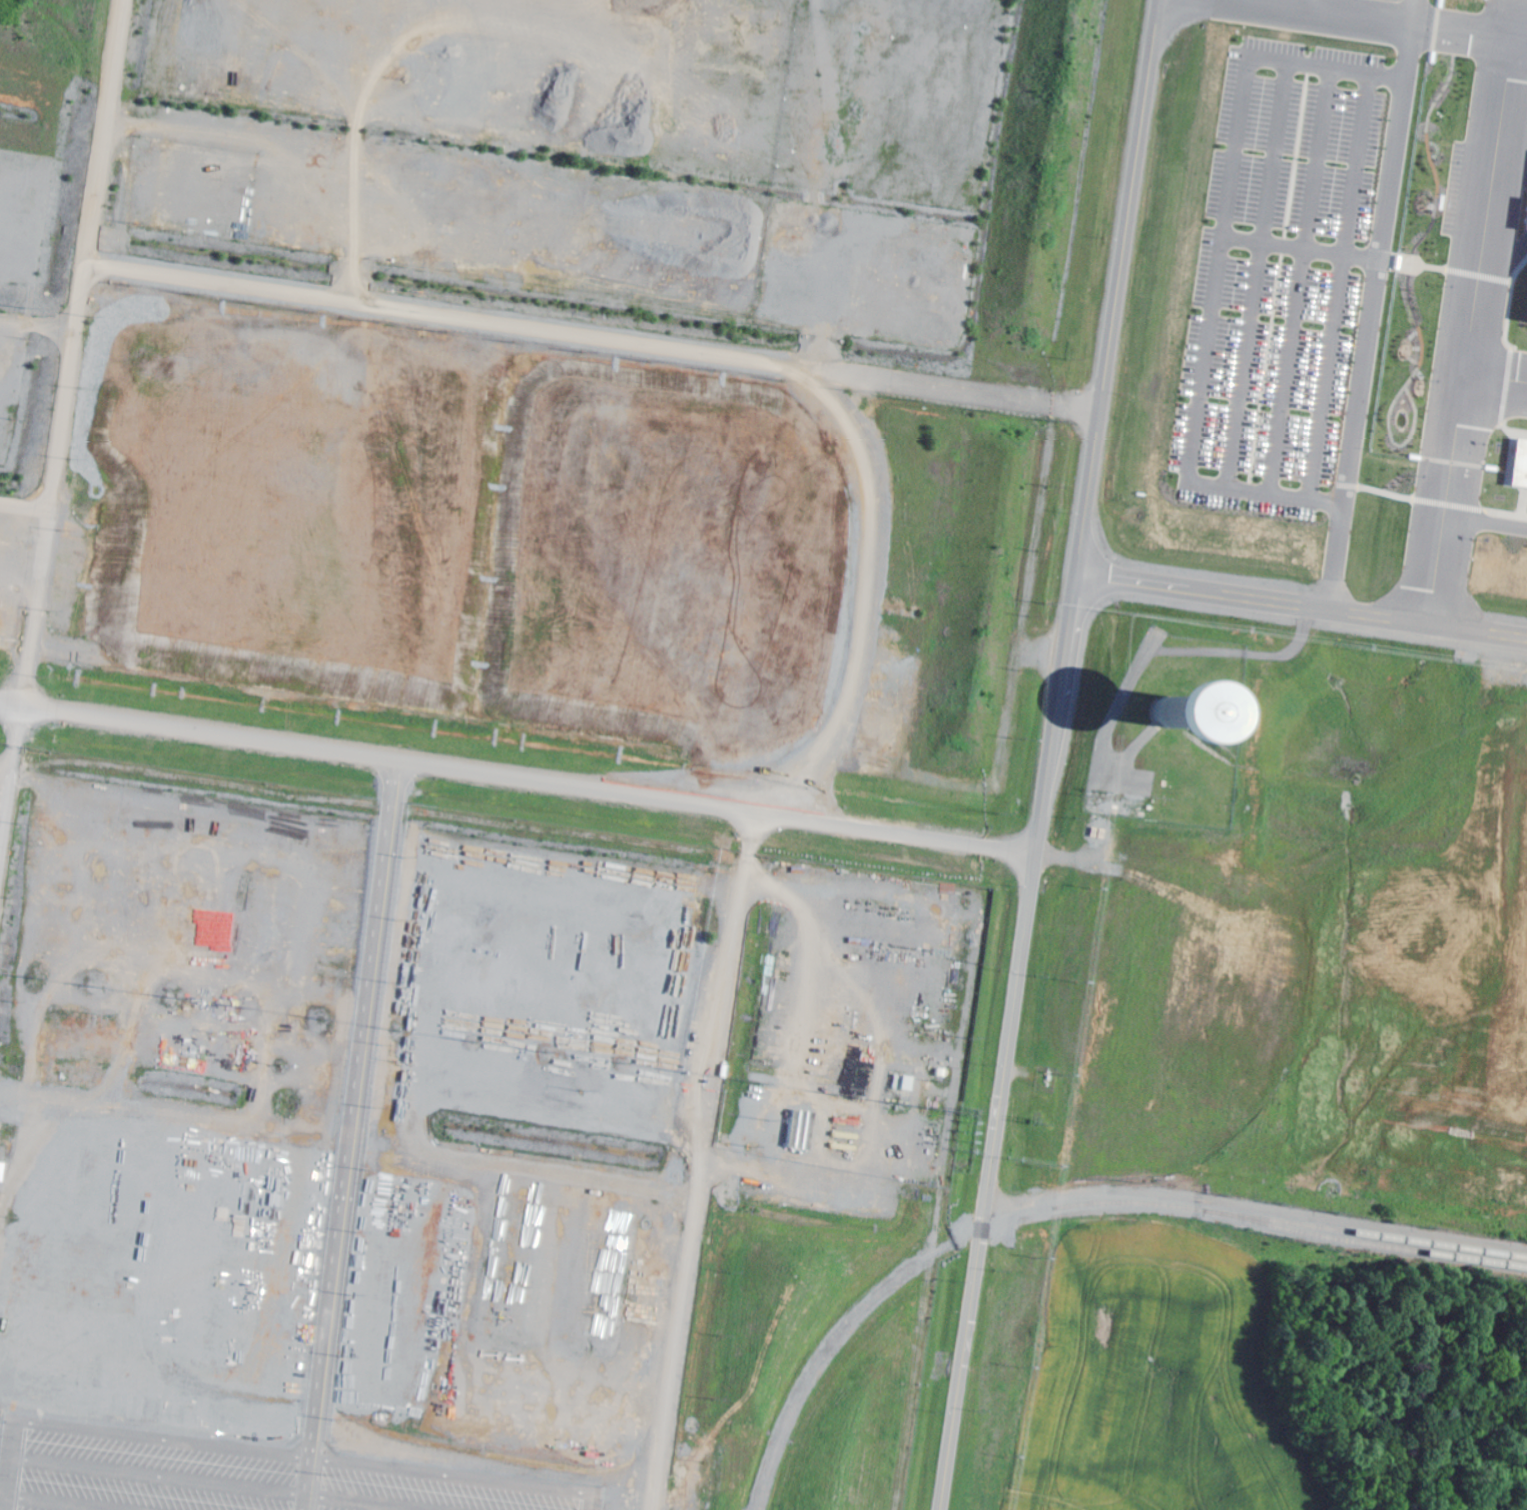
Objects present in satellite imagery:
road: (1407, 9)
road: (1466, 28)
road: (1234, 148)
building: (1524, 216)
road: (1377, 242)
building: (1522, 292)
road: (35, 324)
road: (1468, 326)
road: (1495, 369)
road: (1192, 434)
building: (1517, 464)
road: (24, 507)
road: (1486, 515)
road: (47, 518)
road: (1303, 598)
road: (1051, 755)
road: (9, 772)
road: (517, 782)
road: (701, 1163)
building: (0, 1169)
railway: (1287, 1224)
railway: (1364, 1245)

